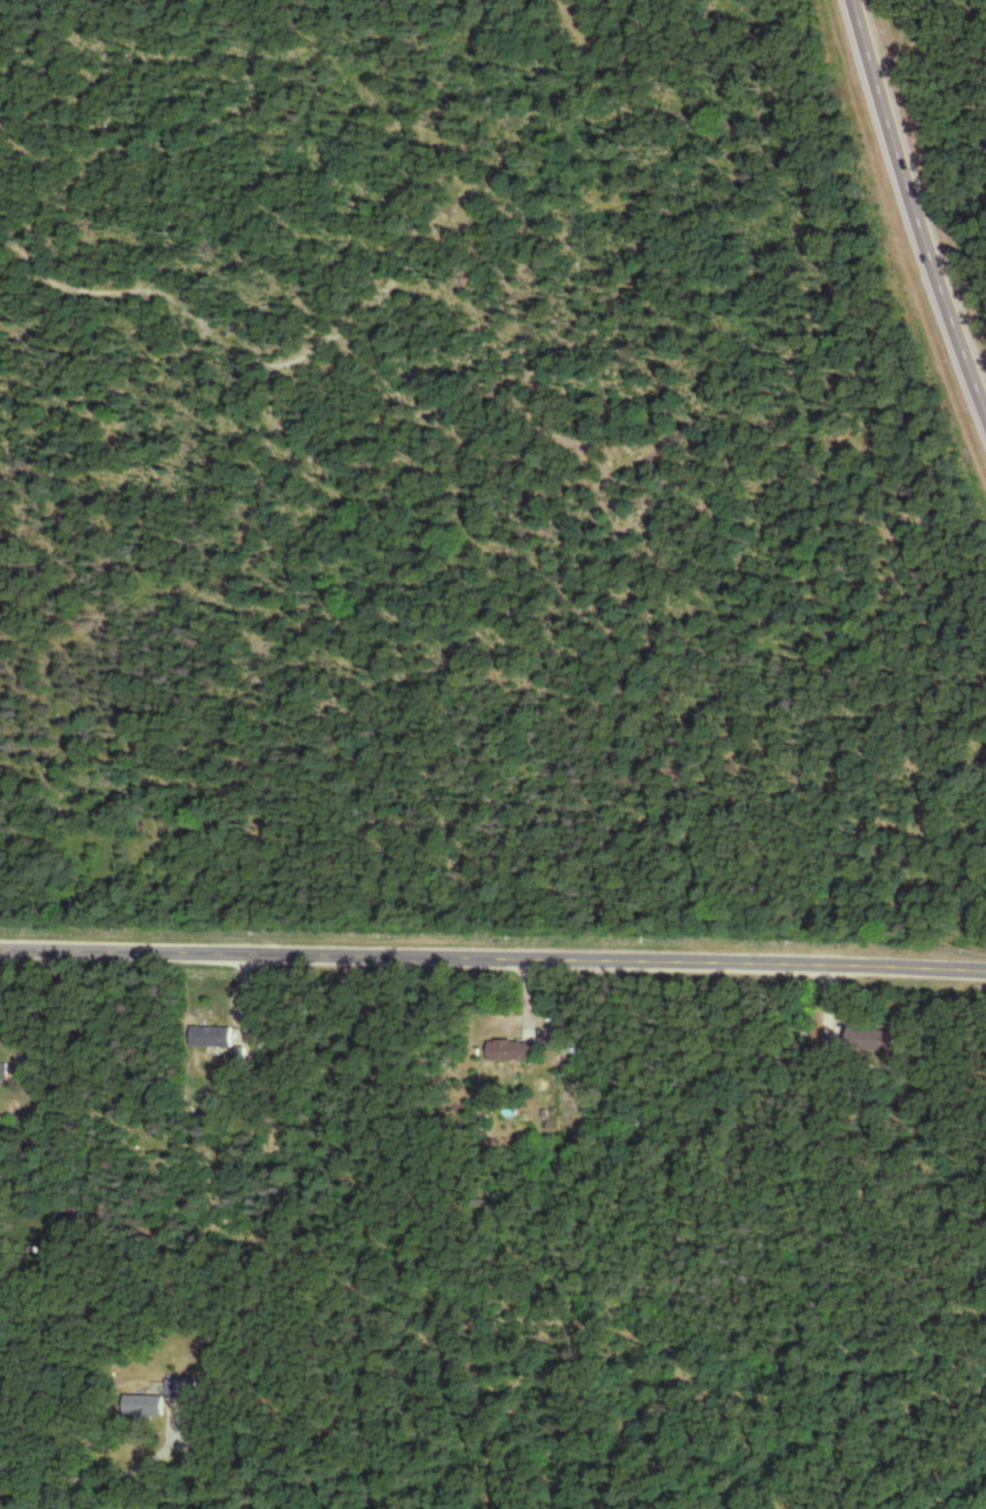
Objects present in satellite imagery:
road: (919, 193)
road: (493, 958)
building: (217, 1038)
building: (866, 1040)
building: (521, 1052)
building: (164, 1409)
road: (102, 1473)

